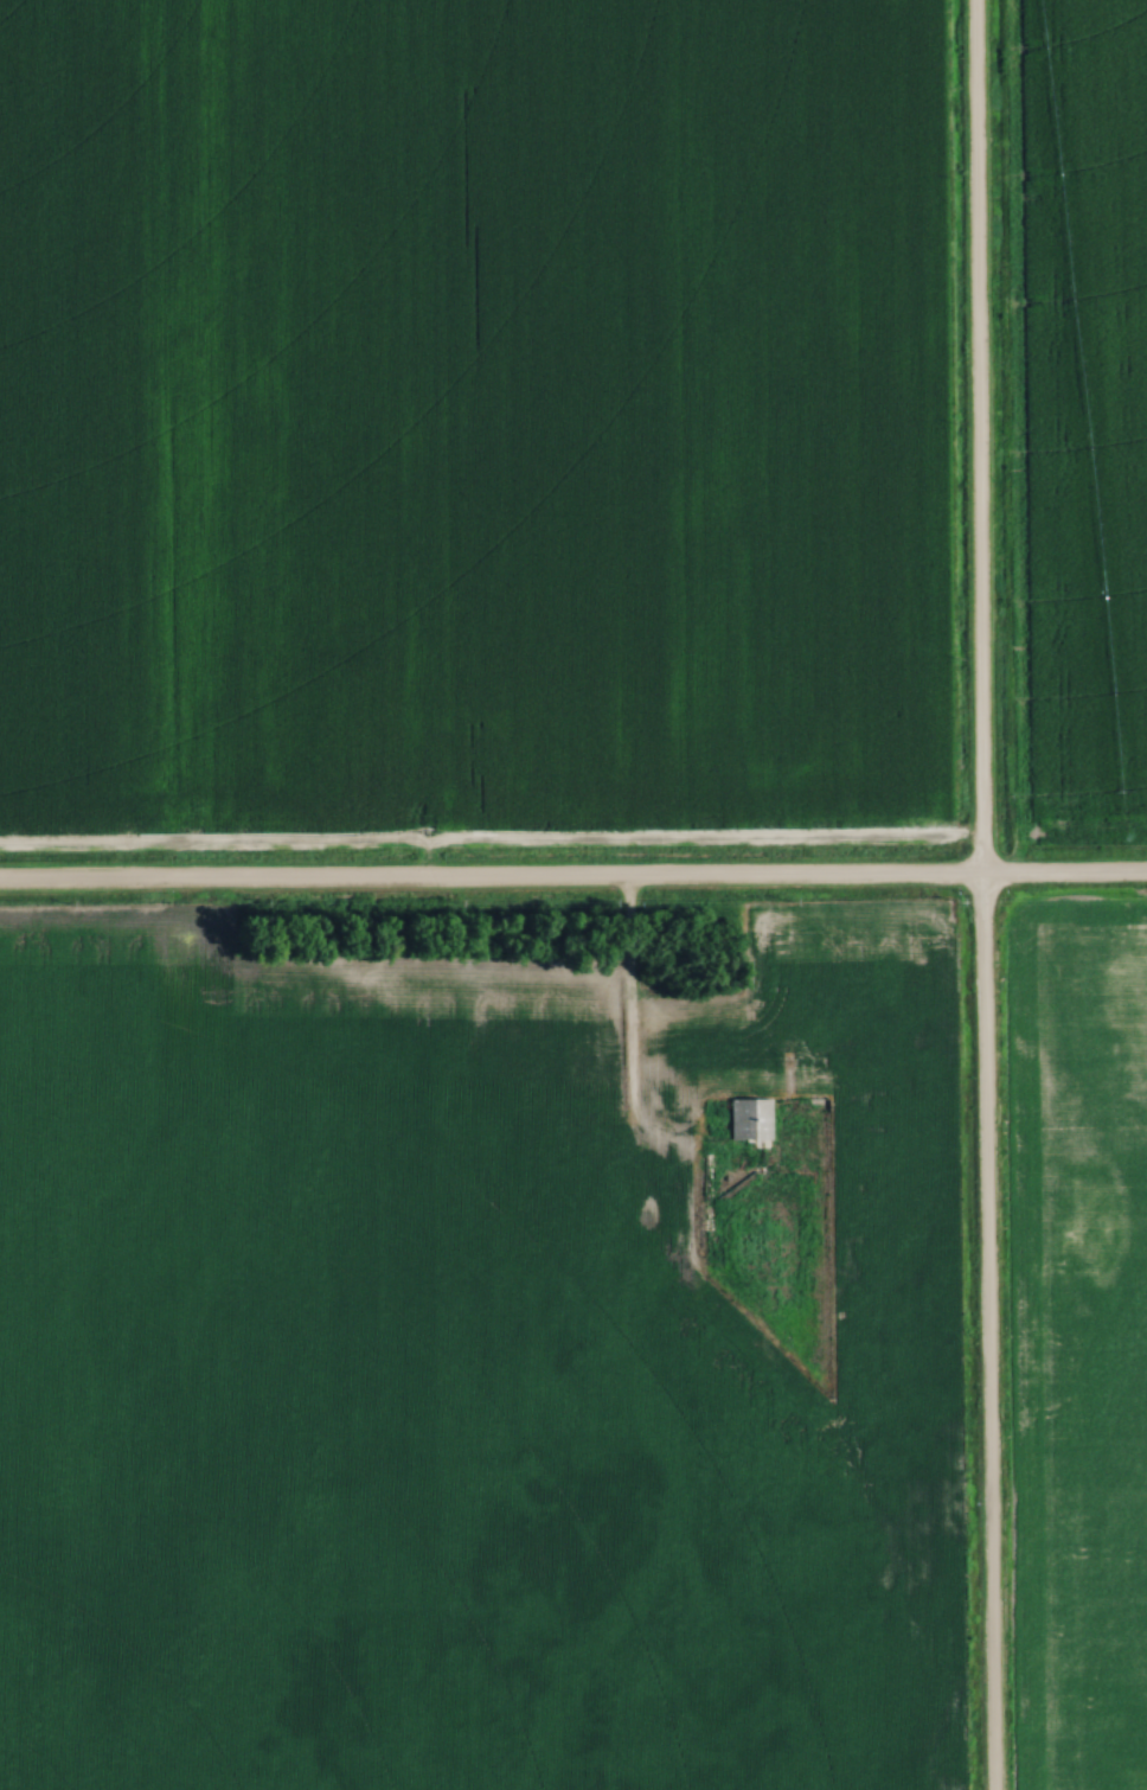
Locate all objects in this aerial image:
road: (573, 884)
road: (981, 895)
road: (629, 1049)
building: (748, 1119)

